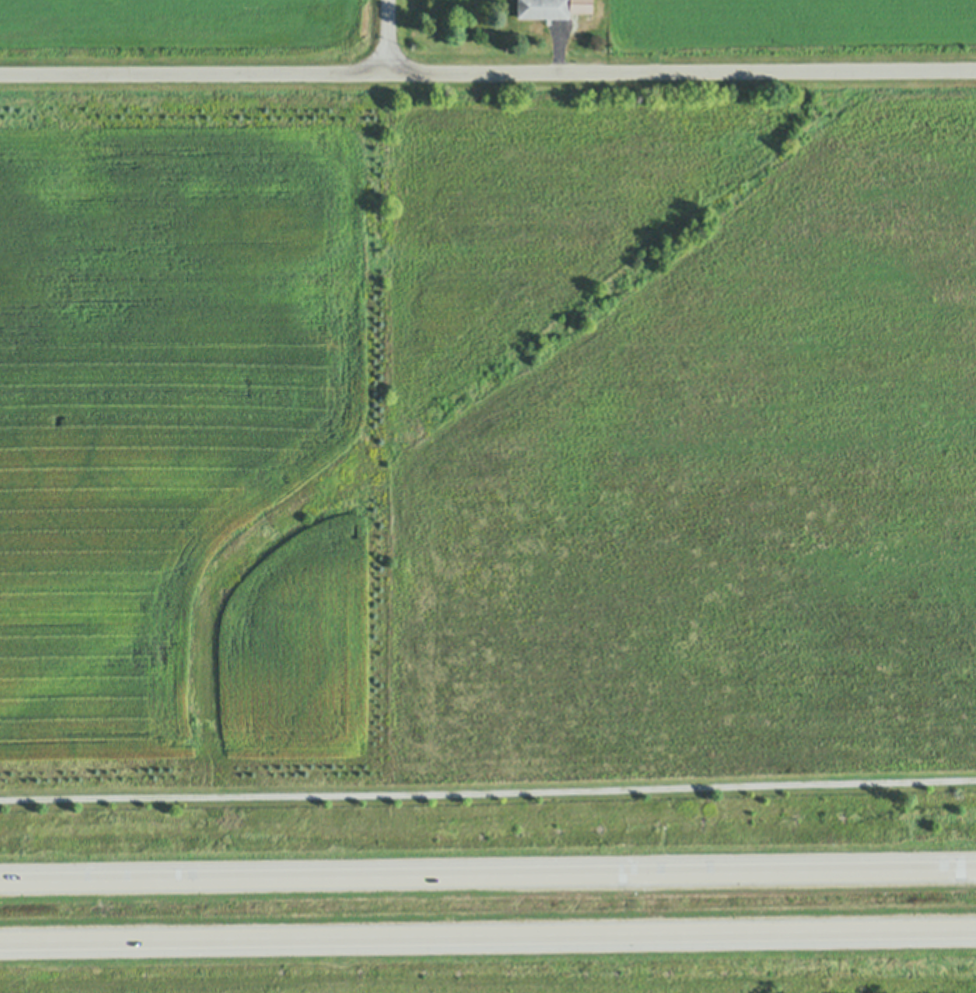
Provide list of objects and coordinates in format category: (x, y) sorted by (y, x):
building: (546, 7)
road: (386, 36)
road: (558, 50)
road: (488, 73)
road: (487, 793)
road: (488, 876)
road: (488, 932)

